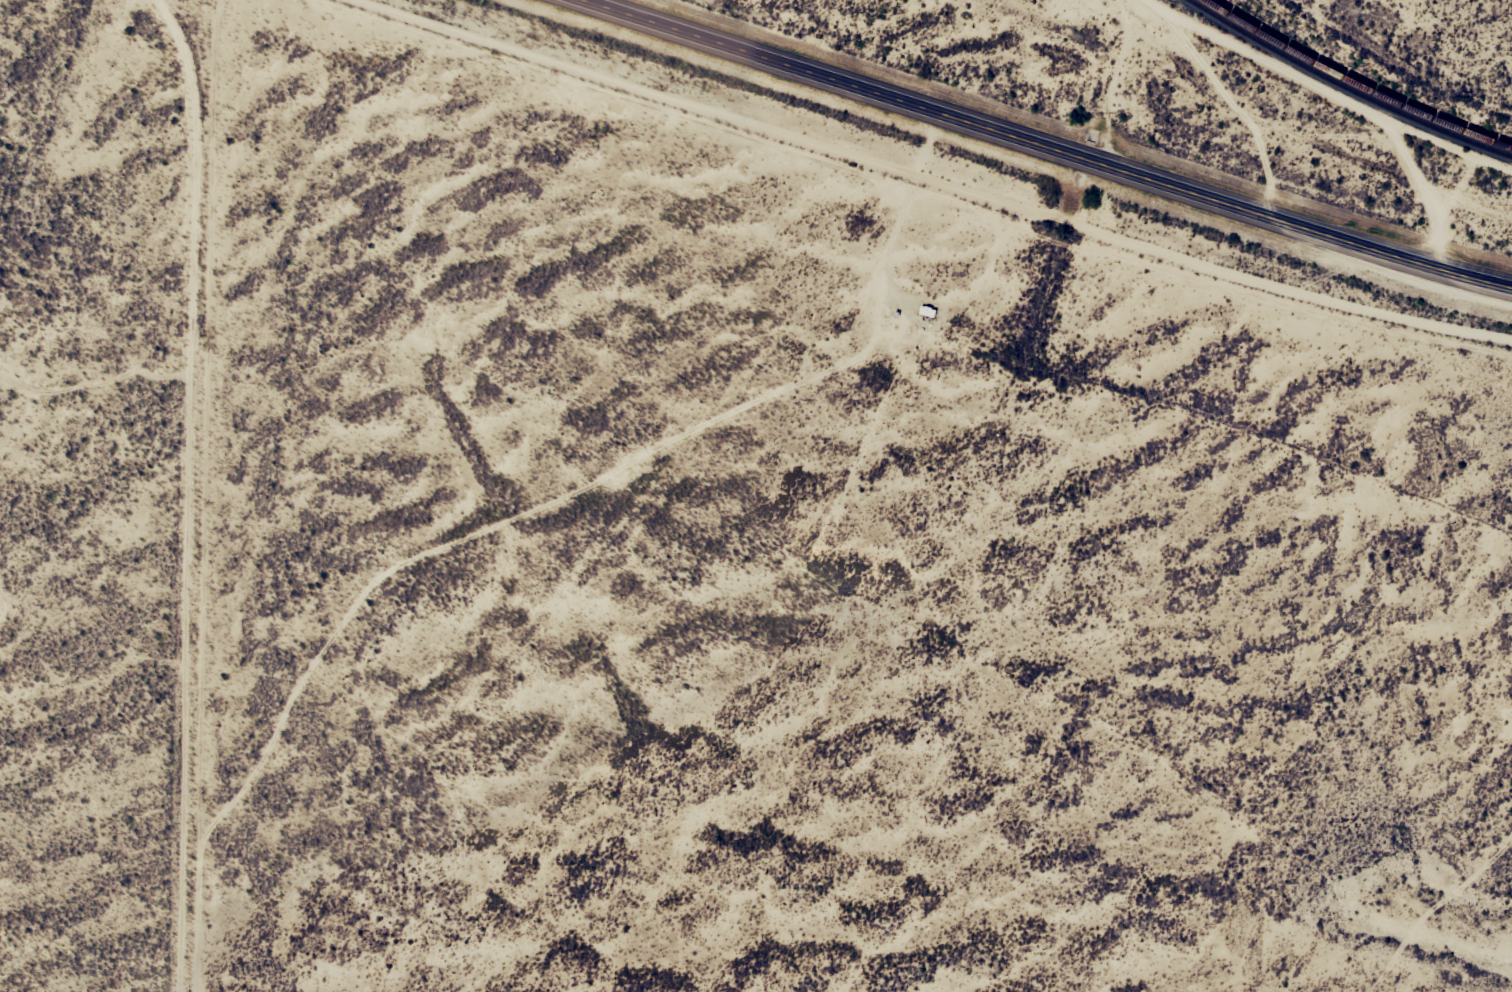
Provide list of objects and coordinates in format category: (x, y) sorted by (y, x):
railway: (1355, 82)
railway: (1346, 86)
road: (1050, 148)
road: (170, 479)

